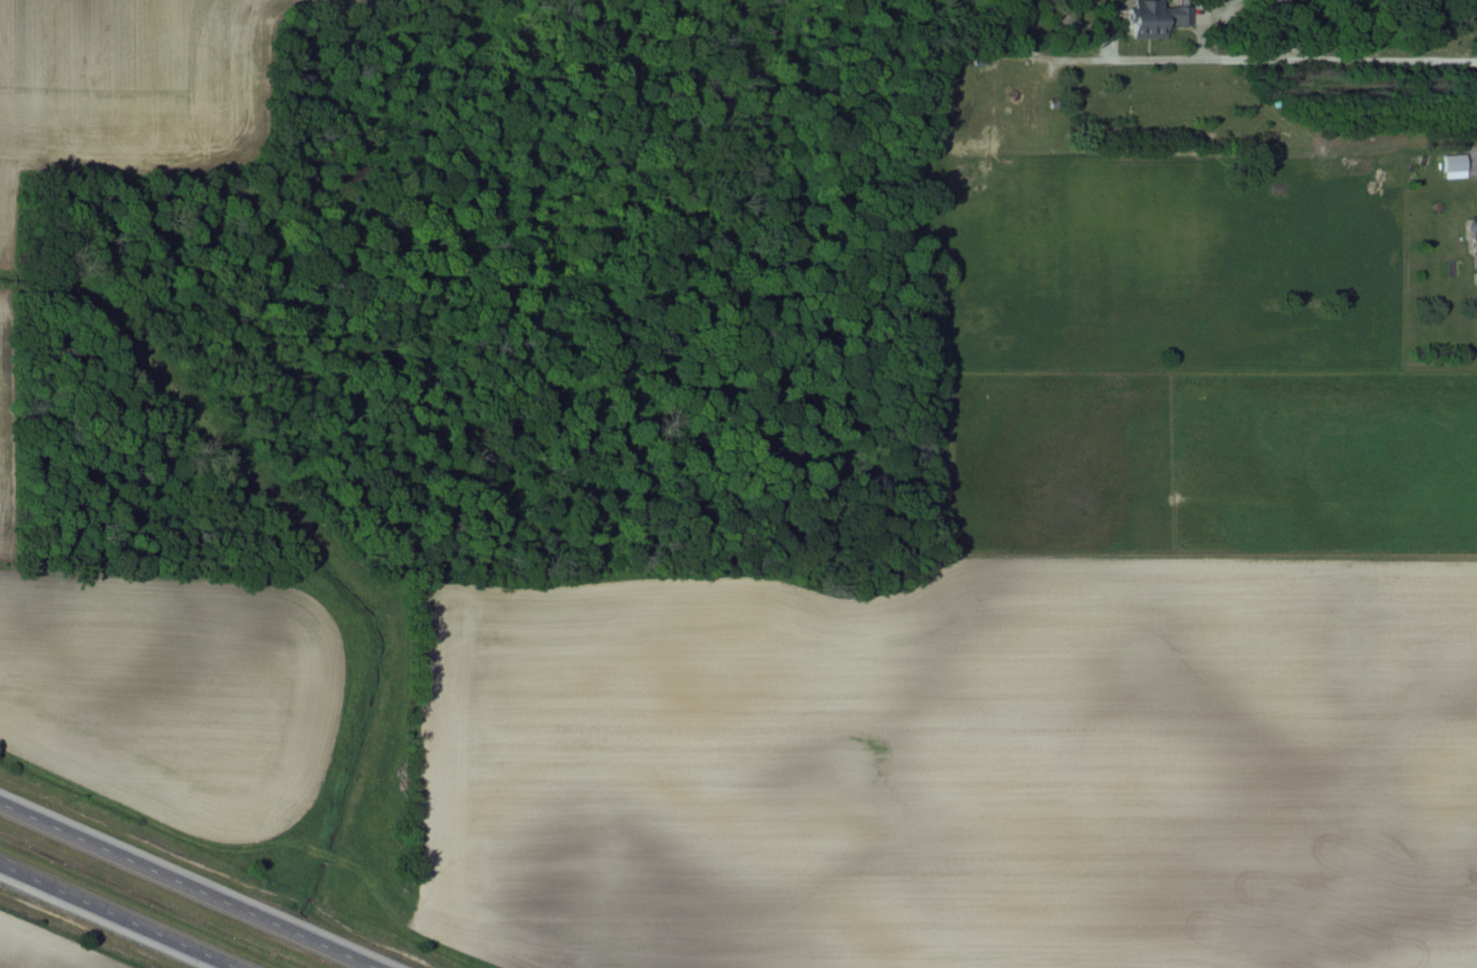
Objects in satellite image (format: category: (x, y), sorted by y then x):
building: (1156, 17)
road: (1202, 25)
road: (1290, 29)
road: (1287, 60)
building: (1455, 165)
building: (1474, 235)
road: (192, 884)
road: (116, 916)

